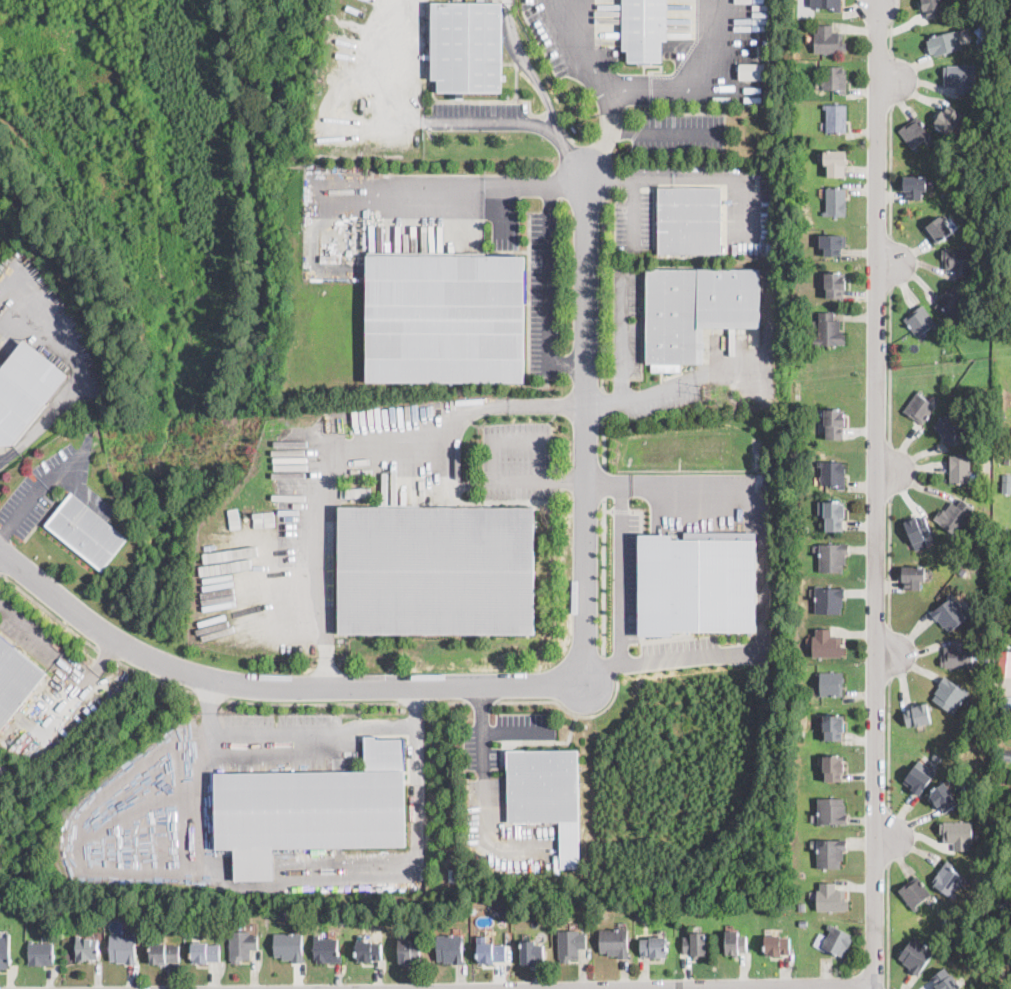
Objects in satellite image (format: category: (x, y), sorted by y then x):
road: (506, 1)
building: (827, 3)
building: (931, 8)
building: (644, 30)
road: (890, 34)
building: (829, 41)
building: (944, 43)
building: (988, 44)
building: (466, 48)
building: (991, 55)
road: (398, 65)
road: (528, 66)
building: (751, 70)
building: (834, 78)
road: (890, 78)
building: (961, 78)
road: (645, 89)
parking lot: (479, 115)
building: (835, 118)
building: (947, 119)
road: (515, 123)
parking lot: (679, 132)
road: (664, 133)
building: (915, 133)
road: (606, 134)
building: (967, 161)
building: (835, 163)
road: (890, 170)
road: (719, 175)
road: (529, 184)
road: (634, 185)
building: (914, 187)
road: (362, 197)
building: (835, 202)
road: (502, 207)
building: (976, 210)
parking lot: (748, 212)
building: (1007, 212)
parking lot: (633, 218)
building: (689, 220)
building: (938, 229)
building: (832, 244)
building: (330, 259)
building: (959, 260)
road: (890, 261)
road: (548, 275)
road: (602, 283)
building: (835, 286)
parking lot: (543, 292)
building: (953, 301)
building: (696, 308)
building: (445, 319)
parking lot: (626, 321)
building: (920, 321)
building: (828, 331)
road: (622, 337)
road: (889, 364)
building: (1, 365)
road: (75, 374)
road: (675, 385)
building: (26, 390)
power tower: (705, 390)
road: (601, 403)
building: (919, 408)
building: (981, 412)
building: (1001, 417)
building: (834, 424)
power tower: (347, 429)
building: (949, 429)
road: (603, 443)
building: (989, 445)
road: (352, 459)
parking lot: (517, 459)
road: (889, 467)
building: (959, 468)
building: (833, 473)
road: (498, 481)
road: (603, 482)
building: (1006, 483)
road: (43, 485)
parking lot: (44, 485)
road: (83, 489)
road: (876, 495)
road: (607, 509)
road: (621, 509)
building: (834, 516)
building: (953, 518)
building: (794, 519)
building: (917, 530)
building: (86, 531)
building: (1002, 552)
road: (621, 554)
building: (948, 554)
building: (832, 557)
road: (888, 560)
building: (962, 570)
building: (436, 571)
road: (762, 571)
road: (603, 576)
parking lot: (625, 577)
building: (912, 577)
building: (697, 581)
building: (829, 600)
road: (49, 611)
building: (949, 613)
road: (28, 628)
parking lot: (28, 633)
building: (826, 644)
parking lot: (680, 651)
road: (888, 653)
road: (105, 654)
building: (958, 655)
building: (1005, 662)
road: (609, 665)
road: (601, 671)
building: (15, 679)
road: (153, 679)
building: (1000, 679)
building: (831, 684)
road: (530, 685)
road: (76, 689)
road: (210, 695)
building: (950, 696)
road: (417, 701)
road: (450, 701)
road: (482, 701)
road: (312, 703)
road: (482, 706)
building: (1006, 708)
road: (568, 712)
building: (917, 716)
building: (833, 728)
road: (306, 735)
road: (549, 741)
road: (888, 744)
building: (1006, 754)
building: (936, 756)
building: (833, 768)
building: (918, 780)
road: (484, 781)
building: (543, 785)
building: (943, 798)
building: (315, 805)
building: (831, 811)
road: (887, 835)
building: (957, 835)
building: (830, 852)
building: (254, 865)
road: (214, 876)
building: (948, 879)
building: (914, 892)
building: (831, 898)
building: (1004, 902)
building: (802, 906)
building: (505, 913)
building: (282, 914)
building: (645, 914)
building: (342, 920)
building: (802, 923)
building: (945, 924)
road: (887, 926)
building: (614, 941)
building: (837, 941)
building: (570, 943)
building: (735, 943)
building: (695, 944)
building: (242, 945)
building: (288, 945)
building: (654, 945)
building: (776, 945)
building: (87, 947)
building: (123, 948)
building: (326, 948)
building: (449, 948)
building: (408, 950)
building: (4, 951)
building: (205, 951)
building: (368, 951)
building: (490, 951)
building: (40, 952)
building: (164, 952)
building: (531, 952)
building: (916, 955)
building: (1006, 960)
building: (946, 980)
road: (694, 986)
road: (697, 987)

